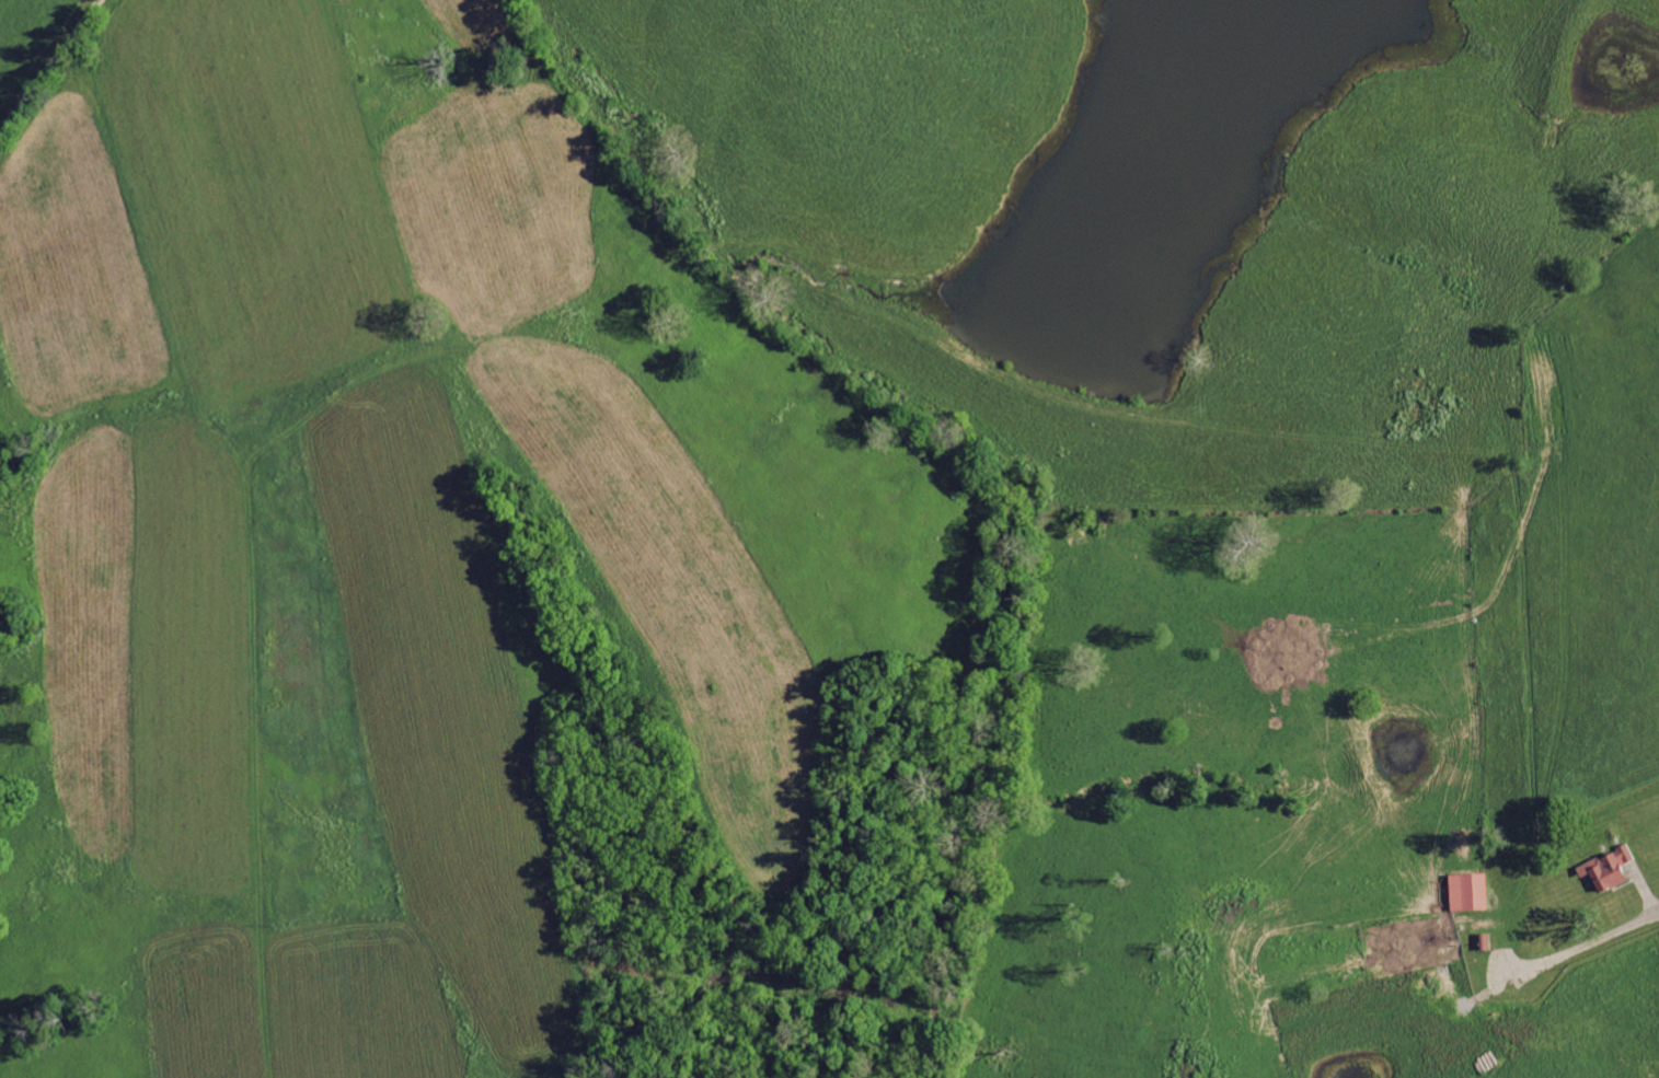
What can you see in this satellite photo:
road: (47, 63)
building: (1609, 869)
building: (1470, 892)
road: (1595, 942)
building: (1513, 1023)

